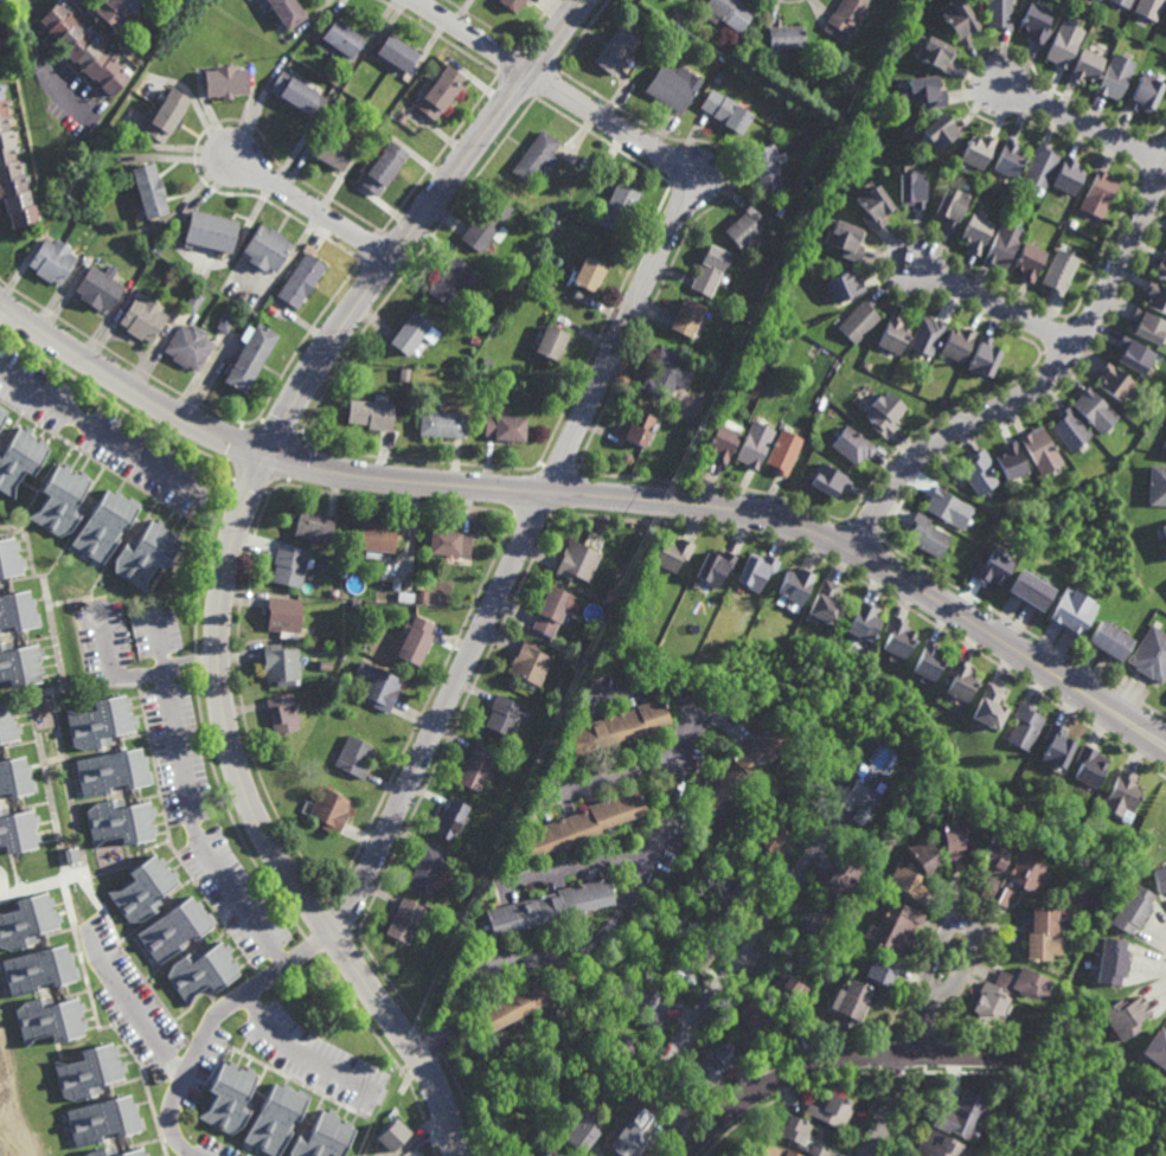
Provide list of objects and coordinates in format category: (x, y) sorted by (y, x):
building: (1123, 1)
building: (511, 4)
building: (1148, 6)
building: (114, 9)
building: (286, 11)
building: (726, 12)
building: (997, 12)
building: (844, 15)
building: (956, 18)
building: (1165, 18)
building: (1034, 19)
building: (694, 20)
building: (782, 34)
road: (473, 36)
building: (339, 39)
building: (1062, 40)
building: (81, 44)
building: (0, 49)
building: (614, 50)
building: (931, 50)
building: (397, 51)
building: (273, 59)
building: (1084, 63)
road: (41, 65)
building: (1114, 73)
building: (718, 76)
building: (224, 79)
building: (1, 84)
building: (671, 85)
building: (921, 89)
building: (1145, 90)
building: (440, 91)
building: (296, 92)
building: (724, 110)
building: (162, 113)
building: (401, 117)
road: (1082, 124)
building: (937, 128)
building: (975, 149)
building: (331, 150)
building: (534, 156)
building: (1007, 156)
building: (763, 165)
building: (1038, 166)
building: (383, 167)
building: (1065, 174)
building: (12, 175)
building: (908, 187)
building: (147, 188)
building: (1097, 192)
building: (948, 204)
building: (871, 205)
building: (615, 207)
building: (556, 208)
road: (312, 211)
building: (1071, 221)
building: (487, 224)
building: (739, 229)
building: (209, 230)
building: (974, 231)
building: (841, 237)
building: (1001, 244)
building: (265, 248)
building: (51, 259)
building: (1029, 259)
building: (1160, 265)
building: (706, 269)
building: (1059, 270)
building: (585, 272)
building: (450, 280)
building: (300, 281)
building: (844, 285)
building: (98, 287)
building: (243, 295)
building: (1157, 296)
road: (0, 300)
building: (192, 301)
road: (995, 302)
building: (173, 312)
building: (142, 317)
building: (684, 317)
building: (859, 320)
building: (225, 321)
building: (1147, 326)
building: (409, 333)
building: (892, 334)
building: (924, 335)
building: (547, 342)
building: (955, 343)
building: (187, 347)
building: (1134, 355)
building: (982, 357)
building: (249, 358)
building: (487, 361)
building: (664, 373)
building: (404, 374)
building: (1114, 381)
road: (1039, 386)
building: (940, 403)
building: (1094, 410)
building: (1, 412)
building: (884, 413)
building: (370, 415)
building: (441, 425)
road: (94, 428)
building: (502, 429)
building: (636, 429)
building: (1068, 430)
building: (722, 441)
building: (1164, 444)
building: (752, 445)
building: (852, 447)
building: (1039, 450)
building: (782, 452)
building: (19, 458)
building: (1010, 462)
road: (558, 473)
building: (978, 474)
building: (828, 481)
building: (1157, 487)
road: (592, 495)
building: (59, 501)
building: (1007, 507)
building: (946, 508)
building: (102, 526)
building: (313, 528)
building: (1164, 534)
building: (923, 537)
building: (374, 542)
building: (449, 544)
building: (142, 554)
building: (672, 554)
road: (229, 557)
building: (8, 559)
building: (575, 563)
building: (713, 569)
building: (288, 570)
building: (987, 570)
building: (754, 573)
building: (395, 586)
building: (793, 586)
building: (1026, 592)
building: (333, 593)
building: (421, 597)
building: (429, 597)
building: (404, 598)
building: (824, 605)
building: (354, 608)
building: (550, 611)
building: (1070, 612)
building: (17, 614)
building: (282, 618)
building: (859, 624)
building: (892, 638)
building: (414, 642)
building: (1108, 644)
building: (331, 648)
building: (1151, 659)
building: (923, 663)
building: (527, 664)
building: (20, 666)
building: (278, 666)
building: (323, 667)
road: (142, 673)
building: (955, 683)
building: (377, 686)
building: (534, 706)
building: (986, 706)
building: (281, 713)
building: (504, 715)
building: (100, 720)
building: (7, 722)
building: (610, 725)
building: (1020, 725)
building: (1055, 741)
building: (353, 754)
building: (1088, 760)
building: (476, 764)
building: (735, 765)
building: (111, 770)
road: (616, 773)
building: (15, 775)
building: (488, 791)
building: (1121, 791)
building: (857, 798)
building: (1016, 803)
building: (328, 809)
building: (450, 817)
building: (579, 818)
road: (705, 818)
building: (118, 820)
road: (191, 828)
building: (17, 829)
building: (946, 833)
building: (773, 840)
building: (921, 853)
building: (454, 854)
building: (991, 854)
road: (572, 866)
building: (1025, 868)
building: (425, 869)
building: (448, 872)
building: (841, 875)
building: (1159, 876)
building: (903, 879)
building: (986, 885)
road: (632, 886)
building: (142, 887)
building: (1000, 894)
building: (735, 899)
building: (1096, 900)
building: (546, 905)
building: (1130, 907)
building: (26, 919)
building: (404, 919)
building: (808, 919)
road: (966, 921)
building: (893, 924)
building: (173, 927)
building: (1039, 932)
building: (696, 951)
building: (1109, 959)
building: (39, 969)
building: (200, 970)
building: (879, 970)
road: (724, 980)
building: (784, 983)
building: (1005, 989)
building: (851, 1000)
building: (513, 1002)
building: (651, 1004)
building: (750, 1014)
building: (1122, 1015)
building: (49, 1019)
road: (211, 1021)
road: (147, 1023)
building: (793, 1025)
road: (929, 1026)
building: (820, 1027)
road: (487, 1041)
building: (616, 1043)
building: (1155, 1049)
road: (294, 1051)
road: (833, 1060)
building: (707, 1065)
building: (88, 1071)
building: (229, 1097)
road: (886, 1105)
building: (829, 1112)
building: (961, 1113)
building: (276, 1118)
building: (102, 1120)
building: (584, 1129)
building: (789, 1129)
building: (392, 1133)
building: (325, 1136)
building: (633, 1139)
building: (937, 1144)
building: (762, 1150)
building: (102, 1151)
building: (814, 1151)
building: (549, 1154)
building: (787, 1154)
building: (559, 1155)

